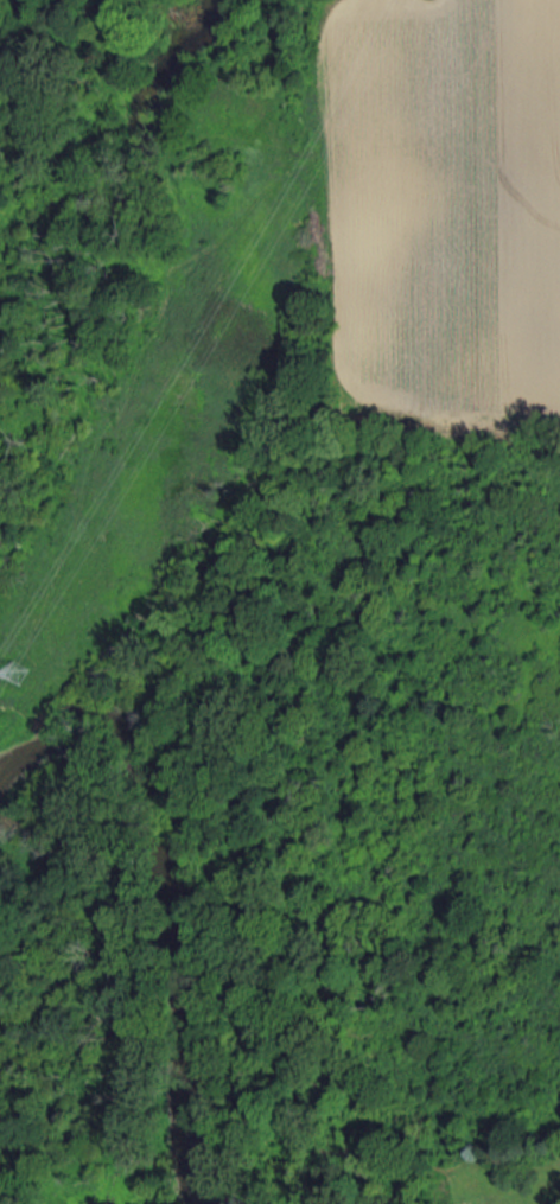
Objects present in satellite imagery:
crop: (444, 210)
power tower: (17, 669)
river: (158, 892)

